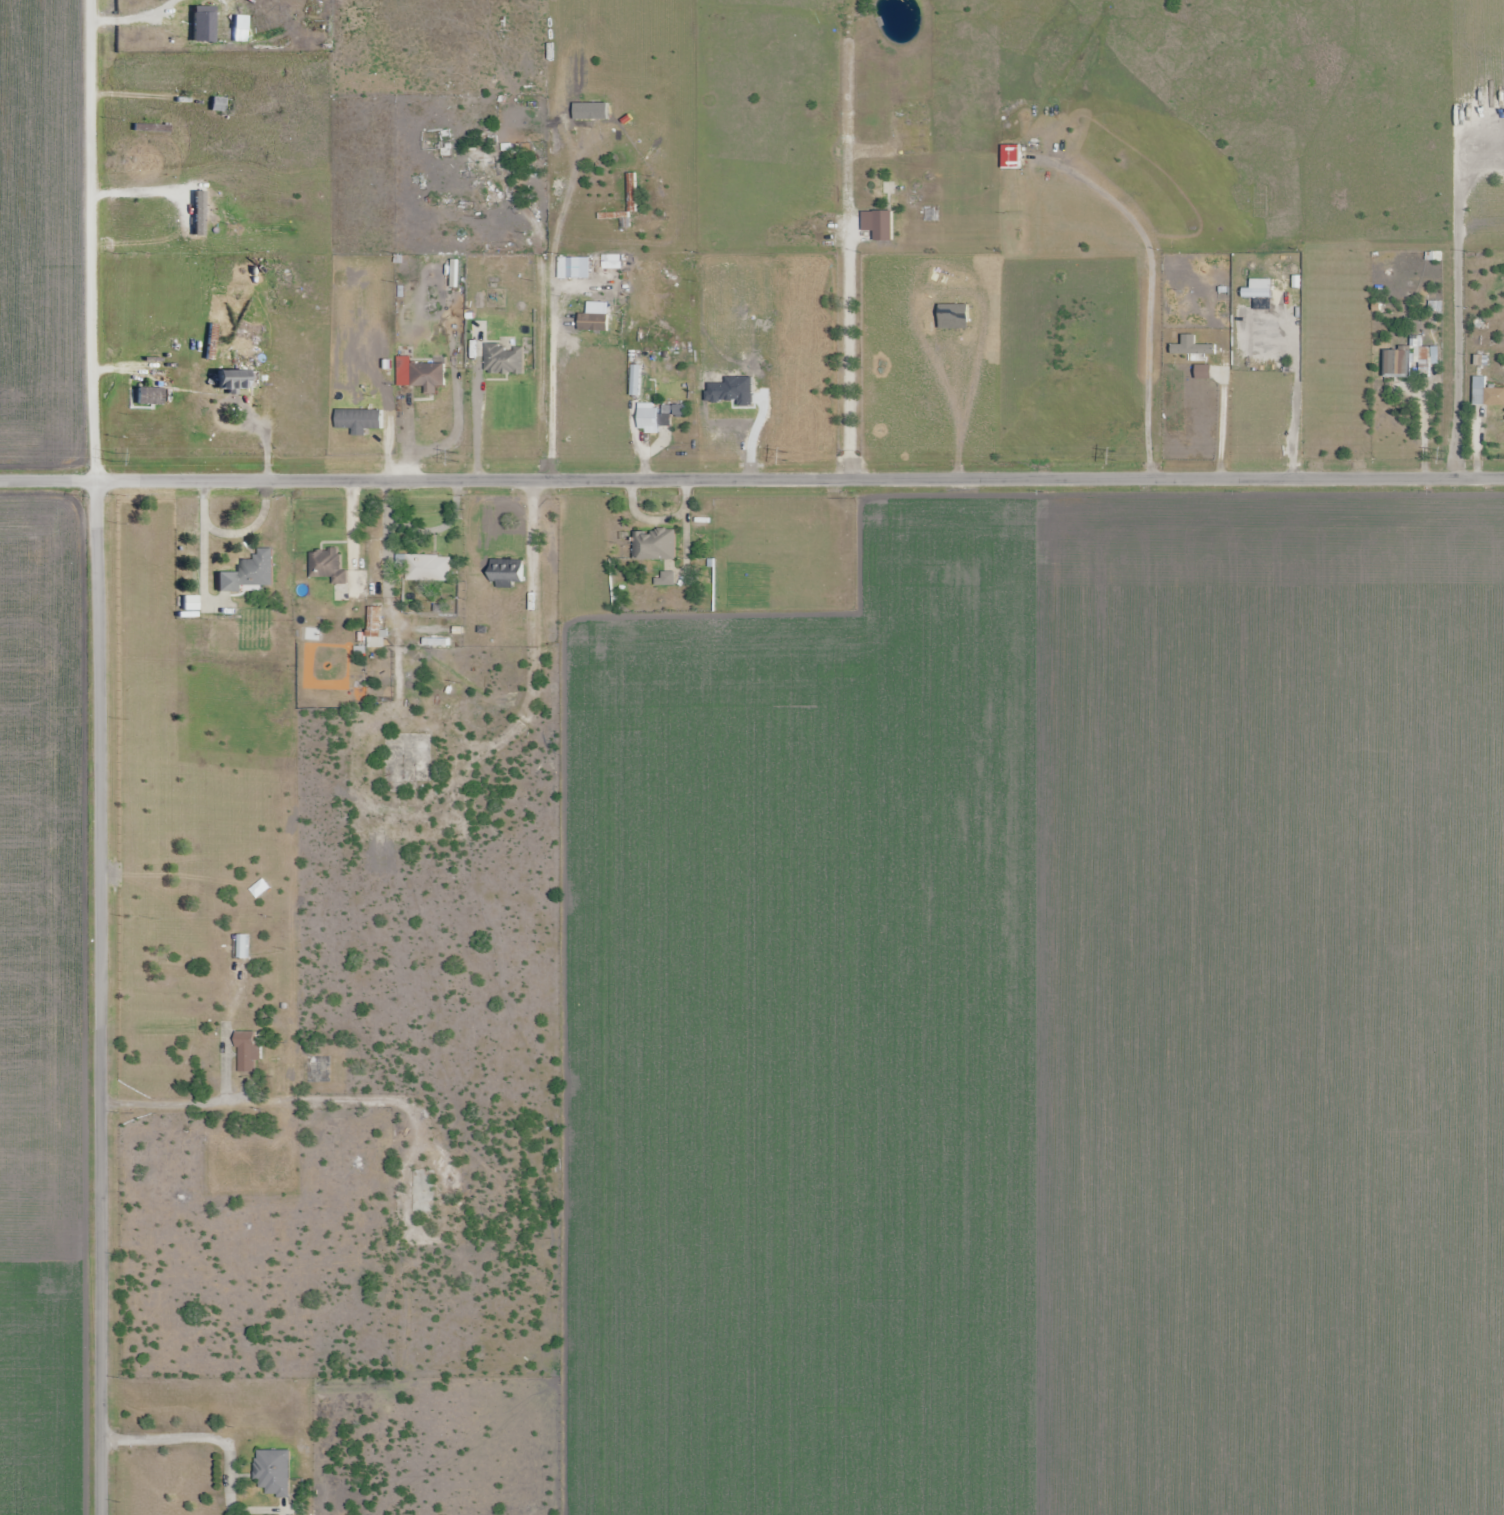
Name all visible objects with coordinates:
building: (222, 106)
building: (152, 128)
building: (480, 192)
building: (885, 225)
building: (1428, 256)
building: (506, 359)
building: (1396, 364)
building: (1433, 367)
building: (432, 375)
building: (233, 380)
building: (150, 396)
road: (551, 397)
building: (1488, 397)
building: (361, 418)
building: (654, 418)
road: (476, 422)
road: (263, 432)
power tower: (113, 456)
power tower: (456, 456)
power tower: (1114, 456)
power tower: (786, 457)
power tower: (1442, 457)
road: (751, 478)
building: (656, 544)
building: (329, 565)
building: (427, 567)
building: (510, 572)
building: (251, 573)
building: (377, 626)
road: (98, 757)
building: (249, 1052)
road: (175, 1109)
building: (424, 1191)
building: (276, 1471)

